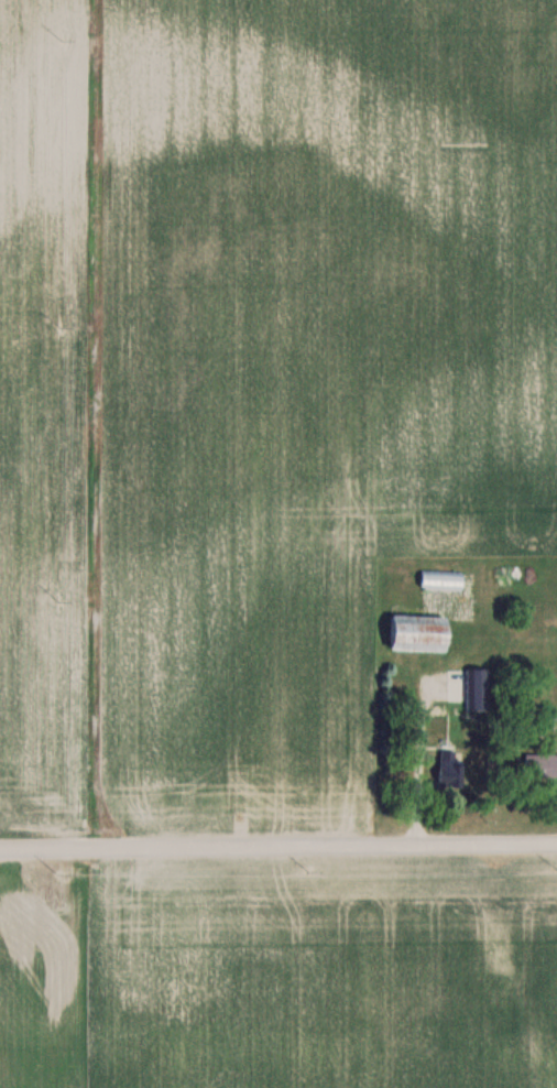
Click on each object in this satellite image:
building: (440, 578)
building: (417, 632)
building: (469, 687)
road: (419, 744)
building: (540, 765)
building: (449, 769)
road: (277, 840)

